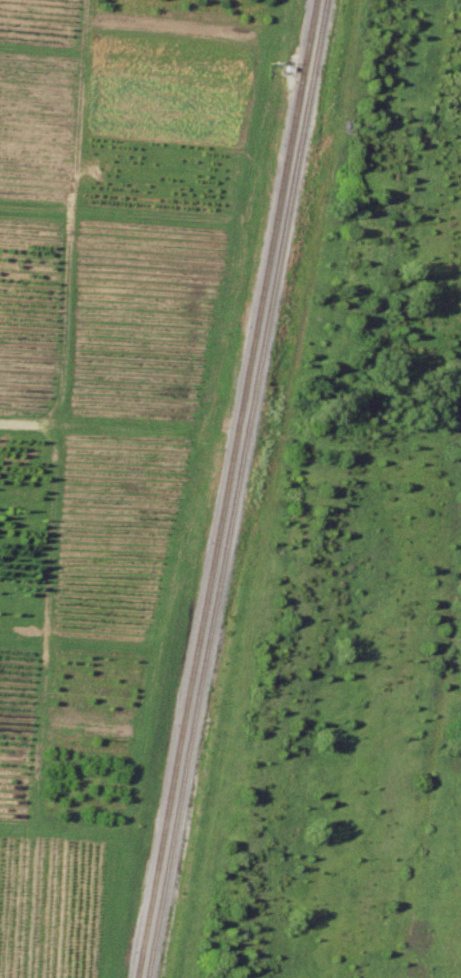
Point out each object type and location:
railway: (224, 489)
railway: (235, 489)

